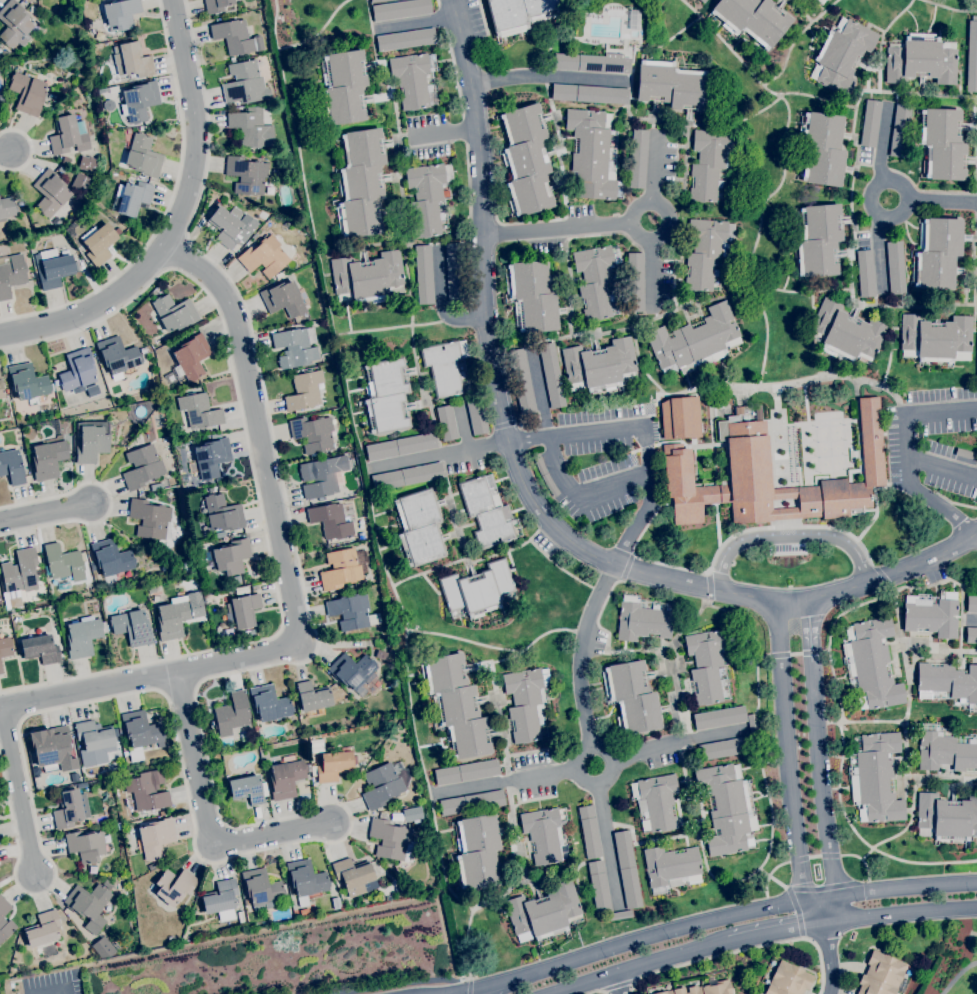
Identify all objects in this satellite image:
building: (826, 0)
building: (826, 0)
building: (377, 1)
building: (702, 1)
building: (821, 1)
building: (216, 5)
building: (400, 9)
building: (121, 13)
building: (517, 13)
building: (752, 19)
building: (634, 20)
road: (417, 21)
building: (14, 24)
building: (236, 37)
building: (404, 39)
building: (841, 54)
building: (972, 55)
building: (921, 59)
building: (134, 60)
building: (593, 63)
road: (541, 76)
building: (412, 79)
building: (245, 83)
building: (673, 85)
building: (343, 86)
building: (103, 90)
building: (27, 93)
building: (590, 94)
building: (139, 101)
building: (107, 105)
building: (240, 108)
building: (59, 113)
building: (870, 123)
building: (251, 127)
building: (900, 130)
road: (449, 131)
building: (67, 134)
road: (883, 141)
building: (942, 143)
road: (30, 149)
building: (822, 149)
road: (4, 154)
building: (593, 154)
building: (141, 155)
building: (526, 159)
building: (638, 159)
building: (711, 164)
road: (654, 170)
building: (246, 175)
building: (360, 183)
building: (50, 192)
building: (427, 197)
building: (132, 198)
road: (942, 201)
road: (870, 202)
building: (7, 207)
building: (73, 207)
road: (166, 207)
road: (179, 218)
road: (667, 222)
building: (225, 227)
building: (70, 229)
road: (557, 229)
building: (245, 238)
building: (818, 239)
building: (99, 243)
building: (2, 247)
road: (178, 252)
road: (879, 252)
building: (707, 253)
building: (938, 253)
building: (264, 257)
building: (896, 267)
building: (53, 268)
building: (454, 272)
building: (866, 273)
building: (424, 274)
road: (651, 274)
building: (11, 275)
building: (368, 277)
building: (596, 280)
building: (635, 282)
building: (533, 295)
building: (283, 299)
road: (439, 301)
building: (174, 312)
building: (846, 333)
building: (935, 338)
building: (695, 341)
building: (295, 347)
building: (117, 355)
building: (191, 357)
building: (599, 365)
building: (446, 366)
building: (976, 369)
building: (77, 371)
building: (552, 375)
building: (522, 381)
building: (27, 382)
building: (305, 390)
building: (1, 391)
road: (540, 393)
building: (385, 396)
building: (199, 410)
road: (945, 411)
building: (678, 417)
building: (477, 418)
building: (447, 422)
road: (644, 432)
building: (313, 433)
road: (905, 434)
building: (91, 440)
building: (400, 447)
building: (966, 454)
road: (437, 455)
building: (210, 457)
building: (48, 459)
building: (748, 463)
building: (142, 466)
building: (12, 467)
road: (942, 467)
building: (544, 475)
building: (321, 476)
building: (407, 476)
road: (255, 484)
building: (156, 486)
road: (526, 490)
building: (155, 493)
road: (579, 494)
road: (111, 501)
road: (933, 502)
road: (43, 510)
building: (486, 511)
building: (222, 513)
building: (149, 518)
building: (331, 520)
building: (418, 527)
building: (220, 534)
road: (788, 538)
building: (231, 556)
building: (111, 557)
building: (64, 562)
building: (93, 566)
building: (343, 568)
building: (20, 572)
road: (288, 576)
building: (154, 590)
building: (242, 590)
building: (478, 590)
building: (63, 592)
building: (15, 602)
building: (971, 604)
building: (242, 610)
building: (350, 611)
building: (932, 615)
building: (178, 616)
building: (373, 619)
building: (642, 620)
building: (132, 627)
building: (251, 632)
building: (971, 635)
building: (83, 637)
building: (5, 646)
building: (40, 649)
building: (380, 654)
road: (583, 654)
building: (871, 663)
building: (707, 666)
building: (1, 667)
building: (352, 671)
building: (947, 682)
building: (313, 696)
building: (632, 697)
building: (526, 702)
building: (269, 703)
building: (456, 706)
building: (231, 714)
building: (719, 717)
building: (751, 724)
building: (119, 726)
building: (141, 733)
building: (94, 735)
road: (676, 742)
building: (317, 744)
building: (724, 748)
building: (55, 750)
building: (945, 751)
building: (125, 753)
road: (820, 763)
building: (333, 765)
road: (788, 765)
building: (466, 771)
building: (92, 777)
building: (286, 778)
building: (875, 778)
road: (510, 780)
building: (385, 783)
road: (598, 785)
road: (18, 788)
building: (248, 789)
building: (147, 790)
building: (655, 801)
building: (472, 802)
building: (68, 809)
building: (727, 809)
road: (205, 813)
building: (412, 814)
building: (946, 817)
road: (232, 826)
building: (589, 831)
building: (545, 835)
building: (156, 837)
building: (392, 841)
road: (606, 844)
building: (85, 845)
building: (477, 851)
building: (152, 866)
building: (671, 867)
building: (92, 869)
building: (627, 869)
building: (156, 874)
building: (353, 876)
building: (306, 880)
building: (174, 886)
building: (599, 886)
building: (262, 889)
building: (220, 897)
building: (336, 903)
building: (89, 905)
building: (304, 912)
building: (544, 912)
road: (735, 913)
road: (900, 913)
building: (619, 915)
building: (70, 916)
building: (240, 918)
building: (253, 918)
building: (5, 920)
building: (43, 928)
road: (777, 933)
building: (102, 947)
road: (749, 951)
road: (830, 958)
road: (639, 967)
building: (907, 971)
park: (950, 972)
building: (881, 974)
building: (788, 979)
road: (619, 983)
road: (618, 985)
road: (478, 986)
building: (704, 988)
road: (448, 992)
road: (454, 992)
road: (598, 992)

